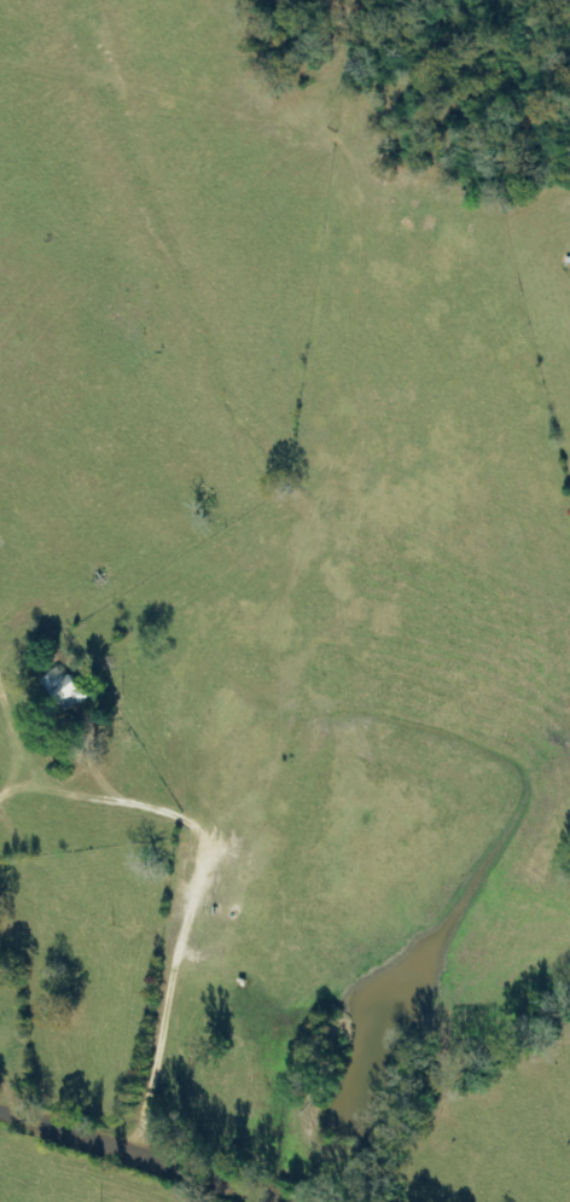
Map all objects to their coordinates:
road: (197, 604)
building: (66, 689)
road: (104, 1169)

